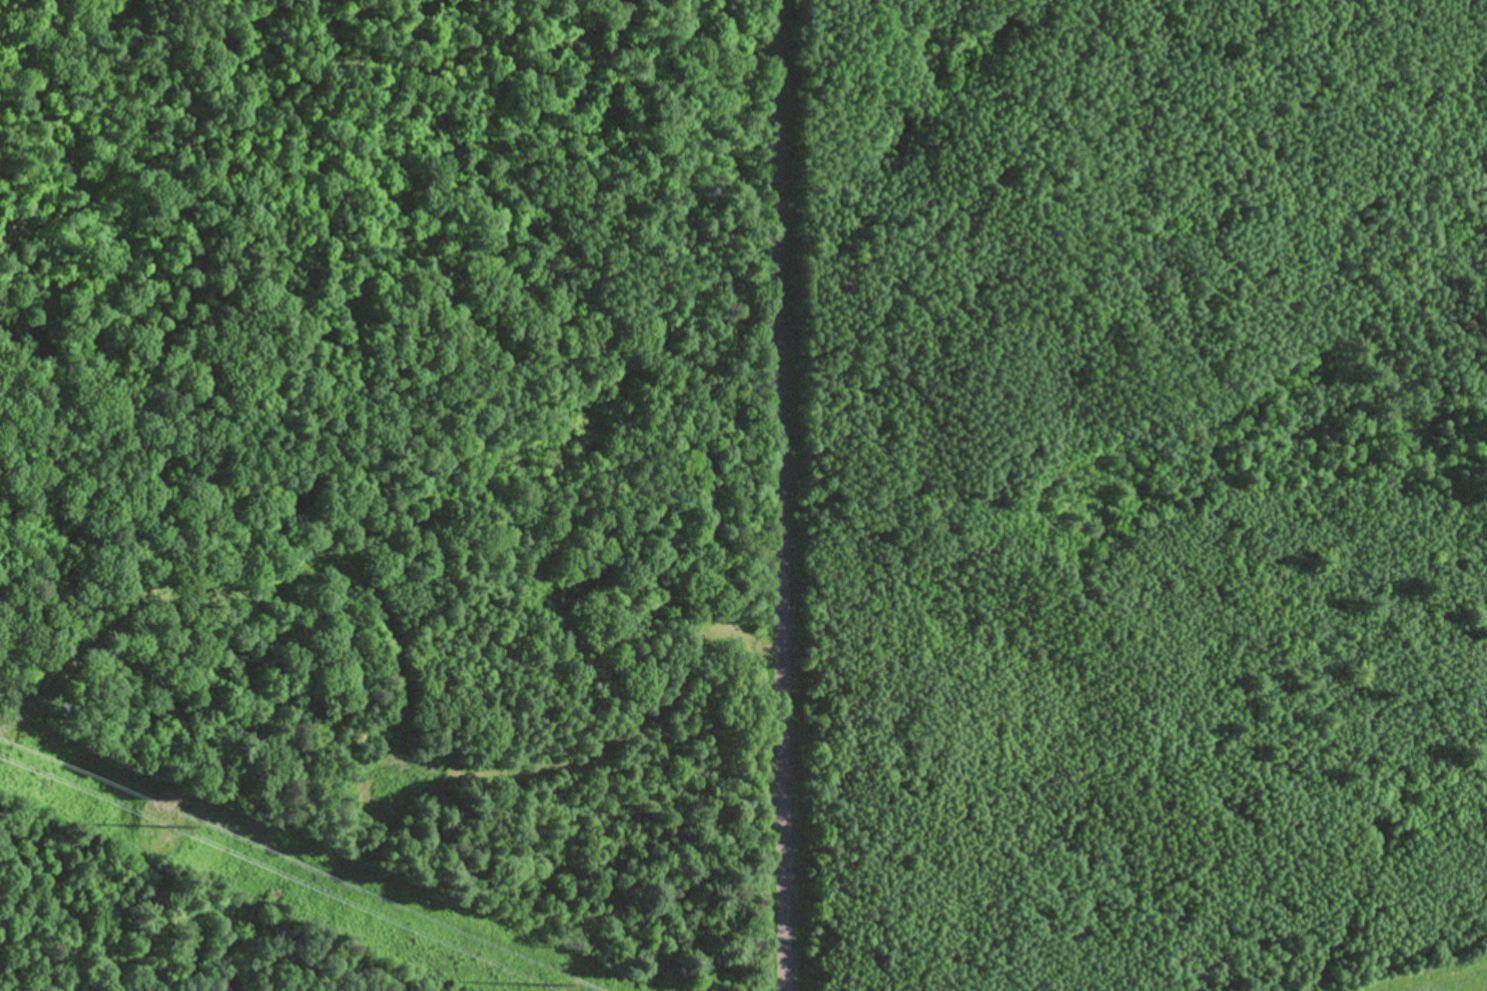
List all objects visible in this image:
road: (783, 495)
power tower: (175, 823)
power tower: (554, 984)

